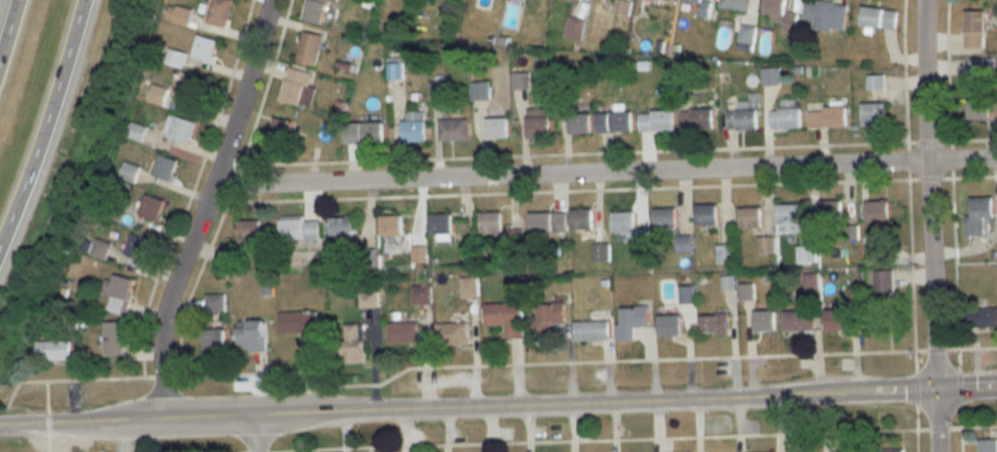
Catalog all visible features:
building: (456, 0)
building: (575, 0)
building: (667, 0)
building: (734, 5)
building: (624, 8)
building: (702, 8)
building: (315, 10)
building: (218, 12)
building: (780, 13)
building: (178, 15)
building: (826, 15)
building: (878, 17)
building: (575, 28)
building: (975, 29)
road: (8, 30)
building: (746, 33)
building: (205, 47)
building: (311, 47)
building: (175, 57)
building: (981, 66)
building: (396, 71)
building: (769, 76)
building: (521, 81)
building: (876, 81)
building: (296, 88)
building: (481, 90)
building: (189, 91)
building: (156, 94)
building: (978, 109)
building: (743, 113)
building: (872, 114)
building: (826, 117)
building: (696, 118)
building: (786, 119)
building: (655, 120)
building: (611, 121)
building: (536, 122)
building: (578, 123)
road: (46, 126)
building: (414, 126)
building: (495, 126)
building: (179, 127)
building: (454, 128)
building: (279, 130)
building: (135, 131)
building: (362, 132)
building: (165, 167)
road: (604, 173)
road: (926, 195)
building: (152, 207)
road: (203, 207)
building: (880, 209)
building: (831, 210)
building: (977, 213)
building: (705, 214)
building: (749, 216)
building: (664, 217)
building: (580, 219)
building: (787, 219)
building: (490, 220)
building: (621, 221)
building: (541, 222)
building: (440, 223)
building: (390, 225)
building: (296, 230)
building: (335, 230)
building: (250, 235)
building: (683, 243)
building: (766, 245)
building: (137, 247)
building: (805, 252)
building: (878, 252)
building: (602, 253)
building: (723, 254)
building: (419, 255)
building: (223, 259)
building: (882, 279)
building: (728, 282)
building: (469, 287)
building: (745, 290)
building: (423, 293)
building: (686, 293)
building: (118, 294)
building: (369, 299)
building: (213, 303)
building: (980, 316)
building: (505, 318)
building: (546, 318)
building: (795, 319)
building: (632, 320)
building: (762, 320)
building: (835, 320)
building: (881, 320)
building: (299, 322)
building: (713, 324)
building: (668, 325)
building: (589, 329)
building: (404, 332)
building: (452, 332)
building: (252, 336)
building: (112, 339)
building: (209, 342)
building: (351, 344)
building: (52, 350)
road: (965, 391)
traffic signals: (934, 392)
road: (466, 405)
road: (934, 422)
road: (254, 432)
building: (987, 445)
building: (890, 450)
building: (800, 451)
building: (845, 451)

